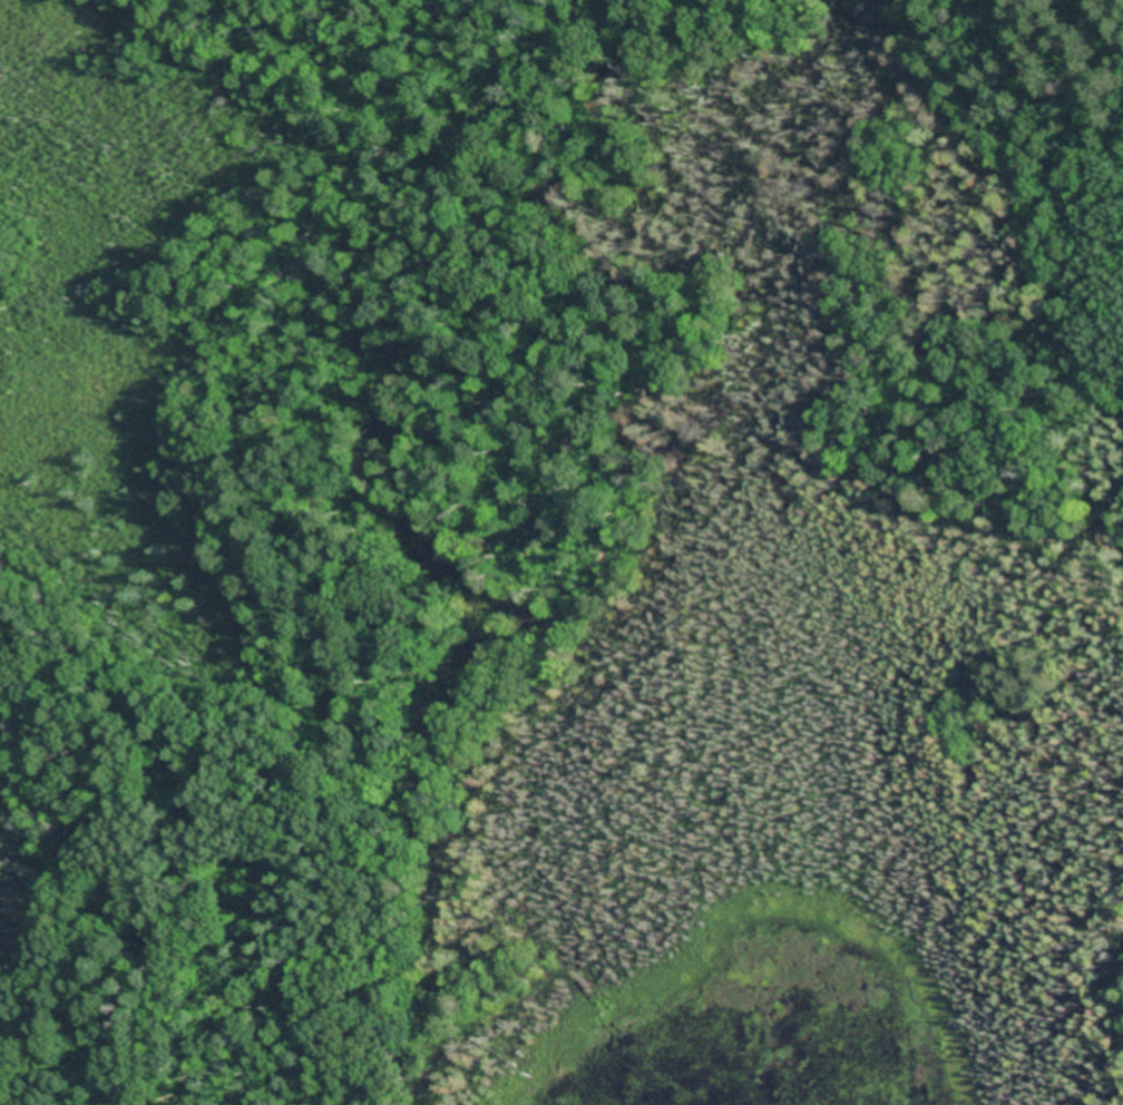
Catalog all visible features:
road: (139, 974)

